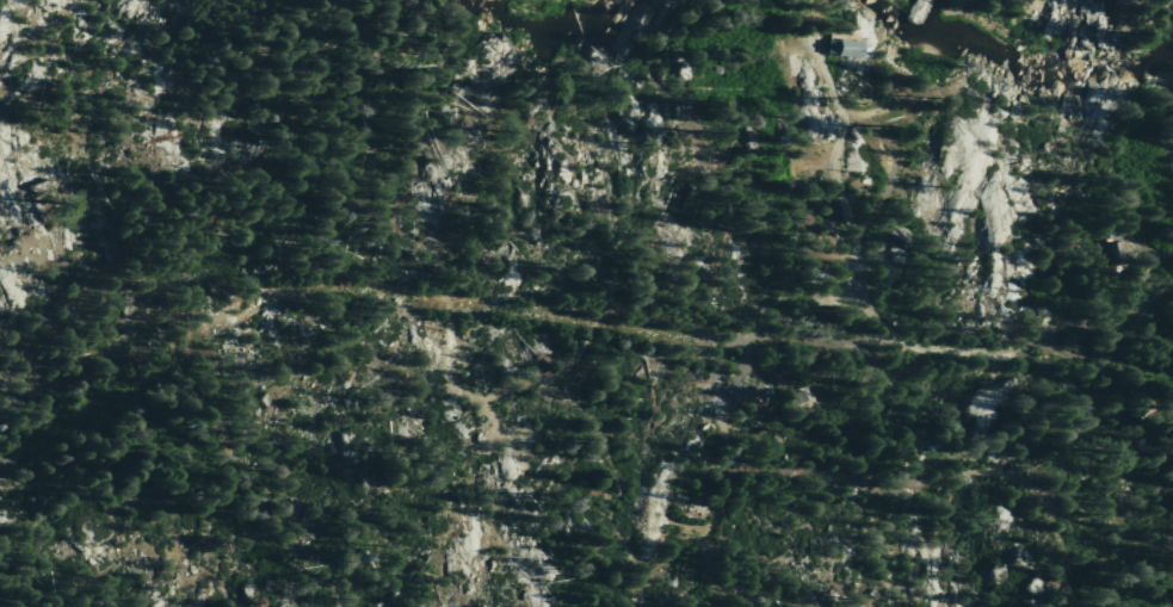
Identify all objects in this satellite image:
river: (561, 24)
building: (841, 47)
river: (1019, 66)
road: (840, 200)
building: (1112, 249)
road: (1154, 250)
road: (1142, 275)
road: (415, 296)
road: (1043, 334)
building: (789, 398)
road: (720, 420)
building: (774, 439)
building: (926, 444)

